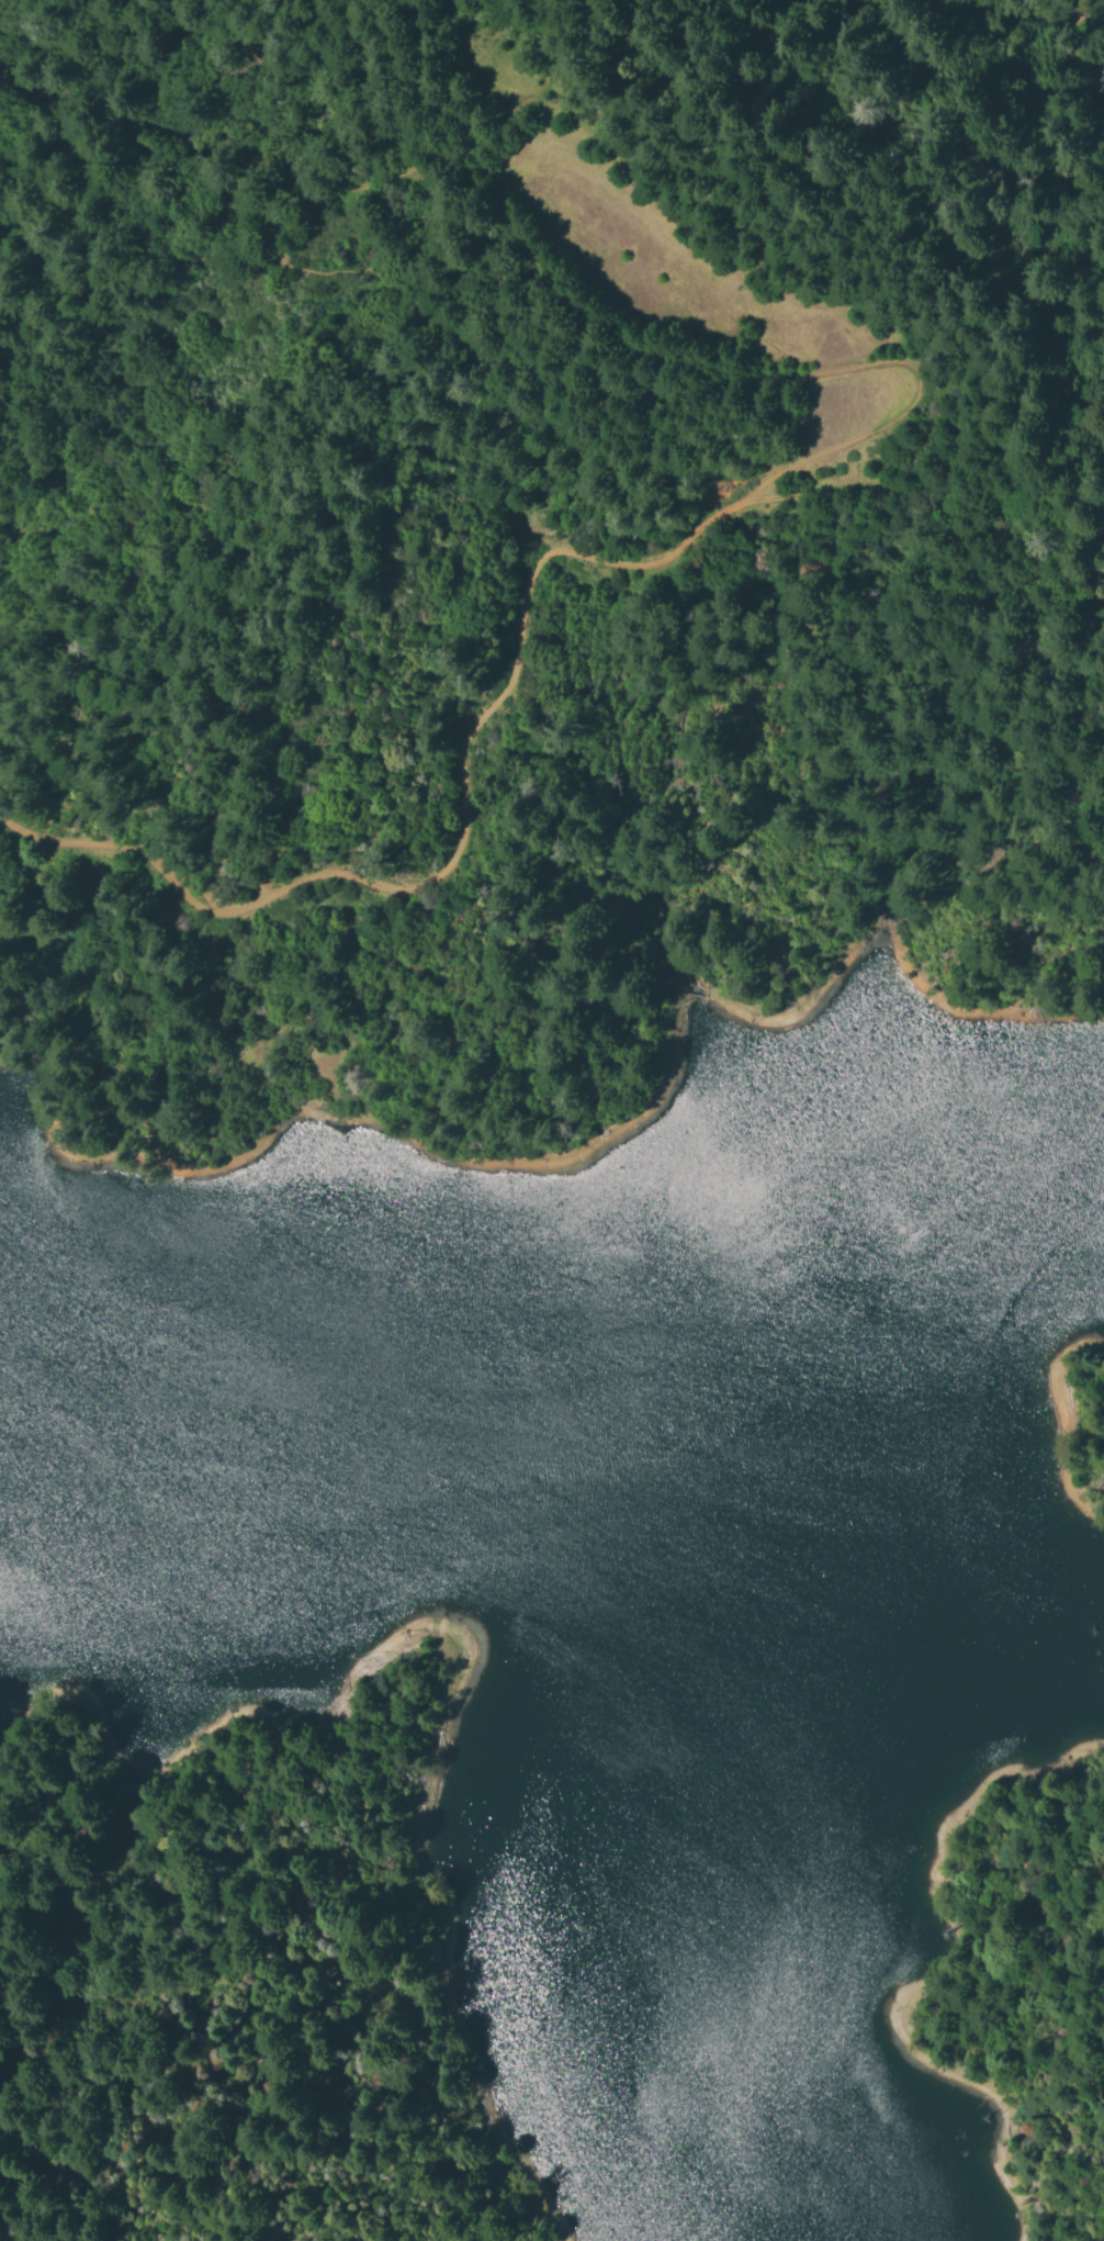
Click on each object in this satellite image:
road: (495, 355)
road: (1052, 374)
road: (454, 842)

